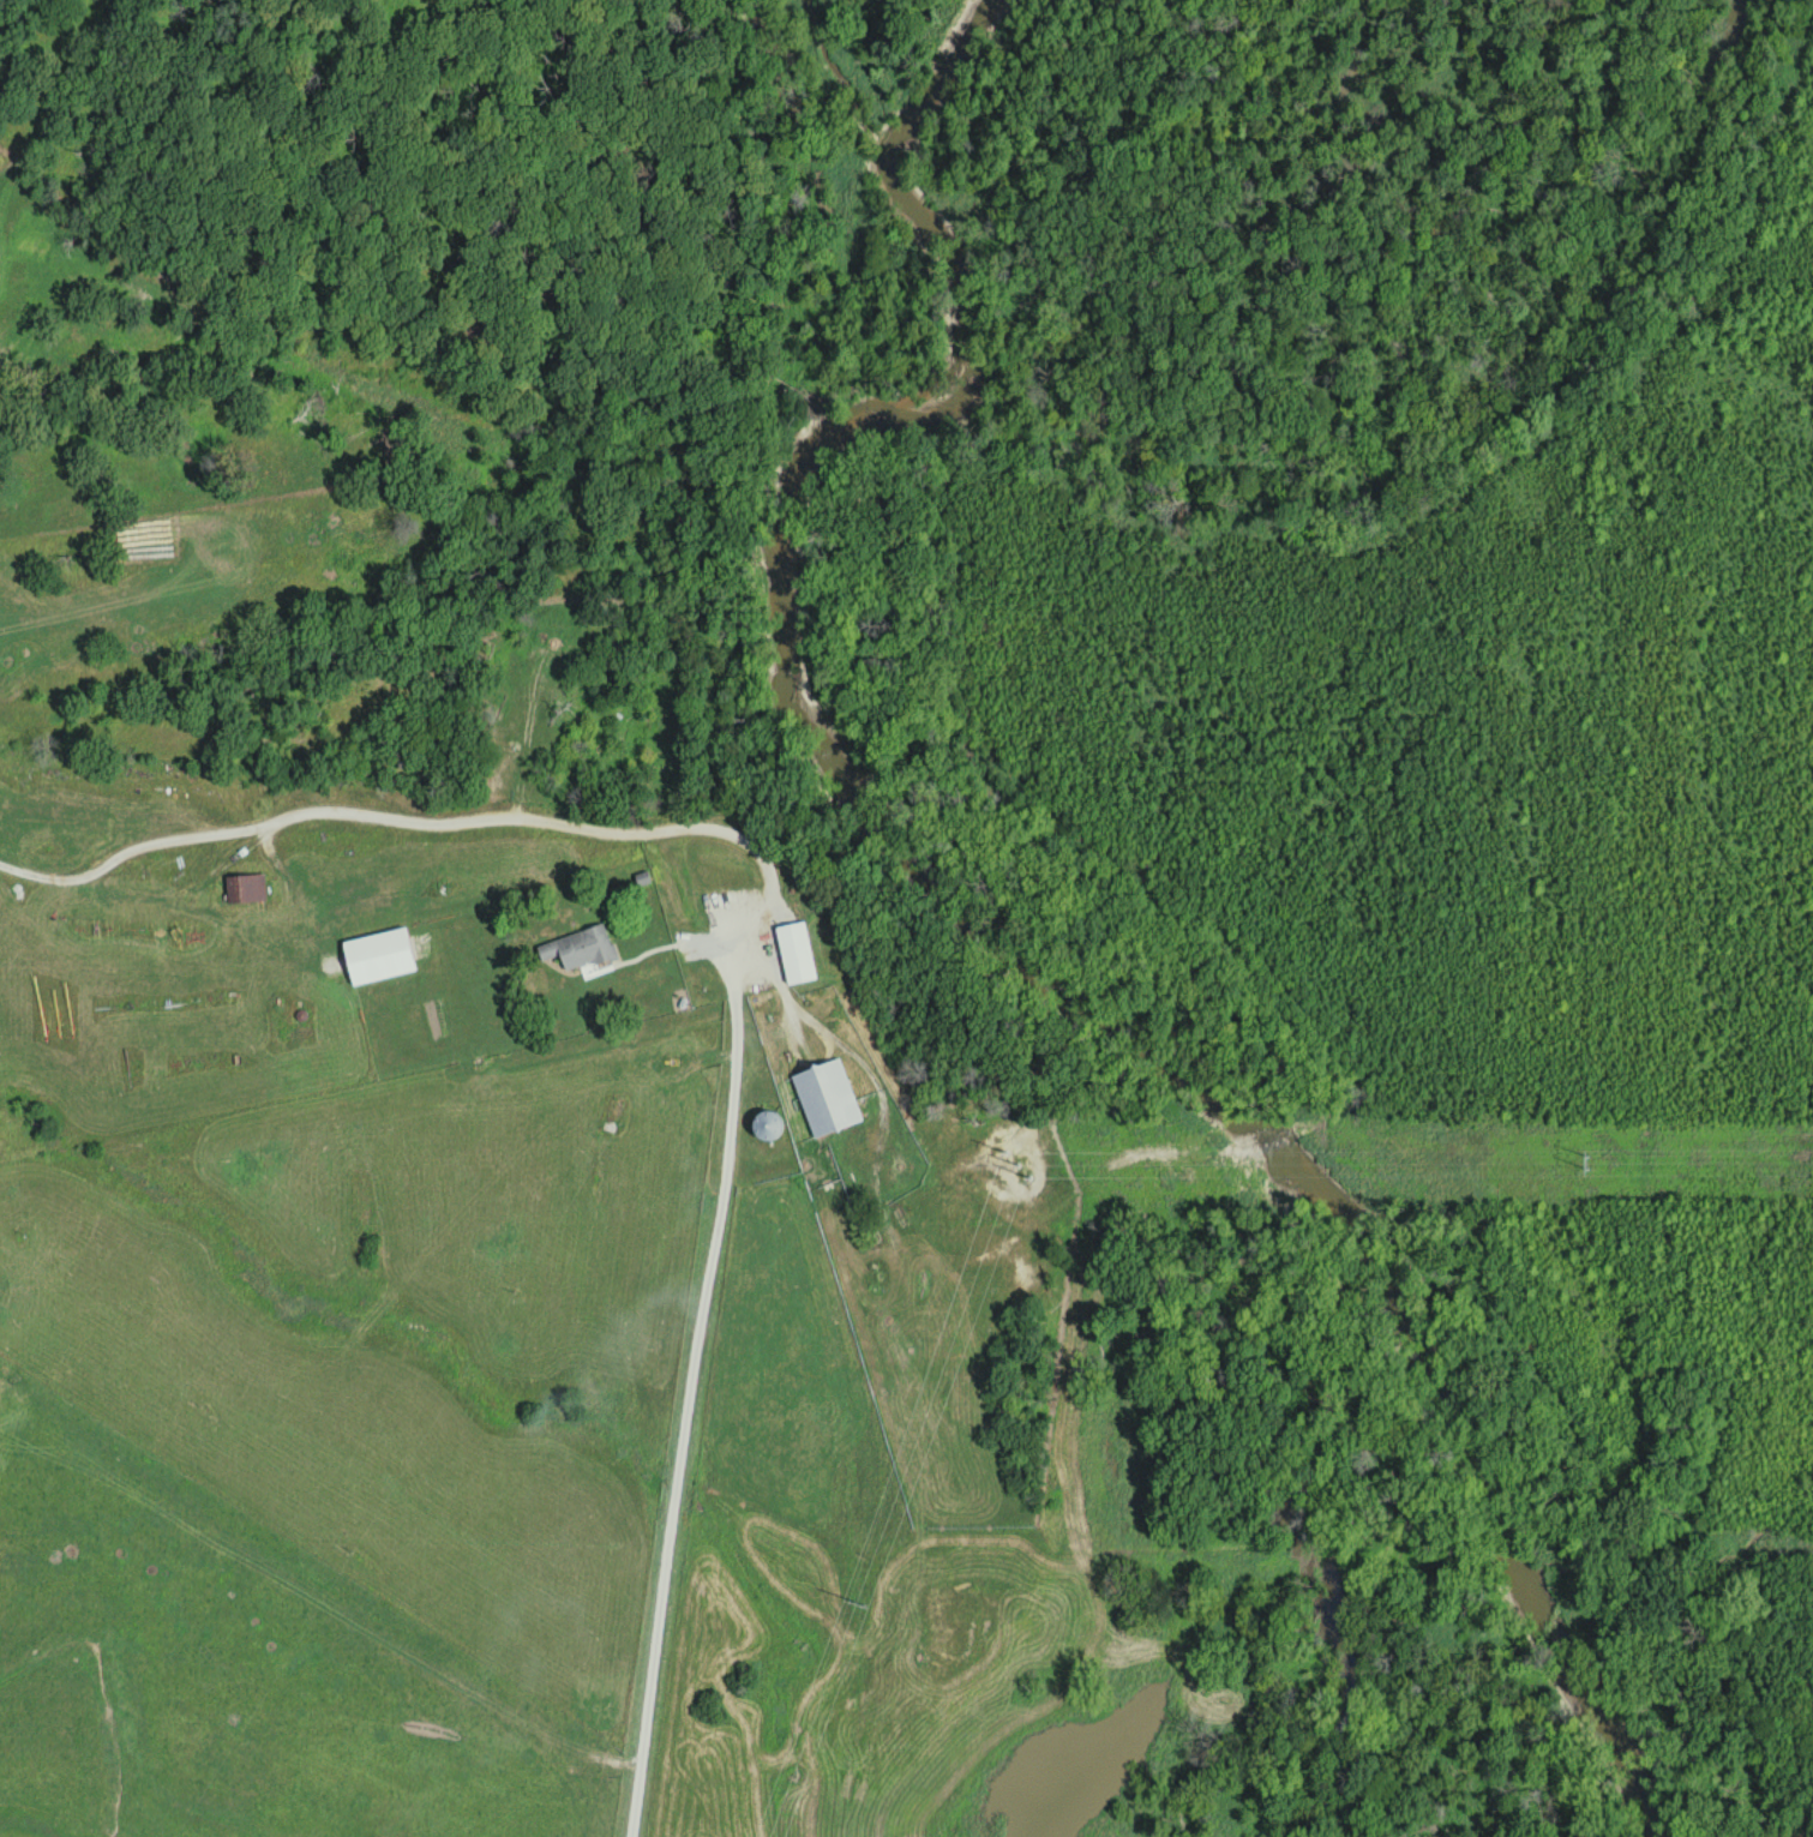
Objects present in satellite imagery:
building: (738, 877)
building: (244, 887)
building: (578, 947)
building: (794, 951)
building: (378, 955)
building: (474, 1049)
building: (824, 1095)
building: (766, 1124)
road: (682, 1452)

